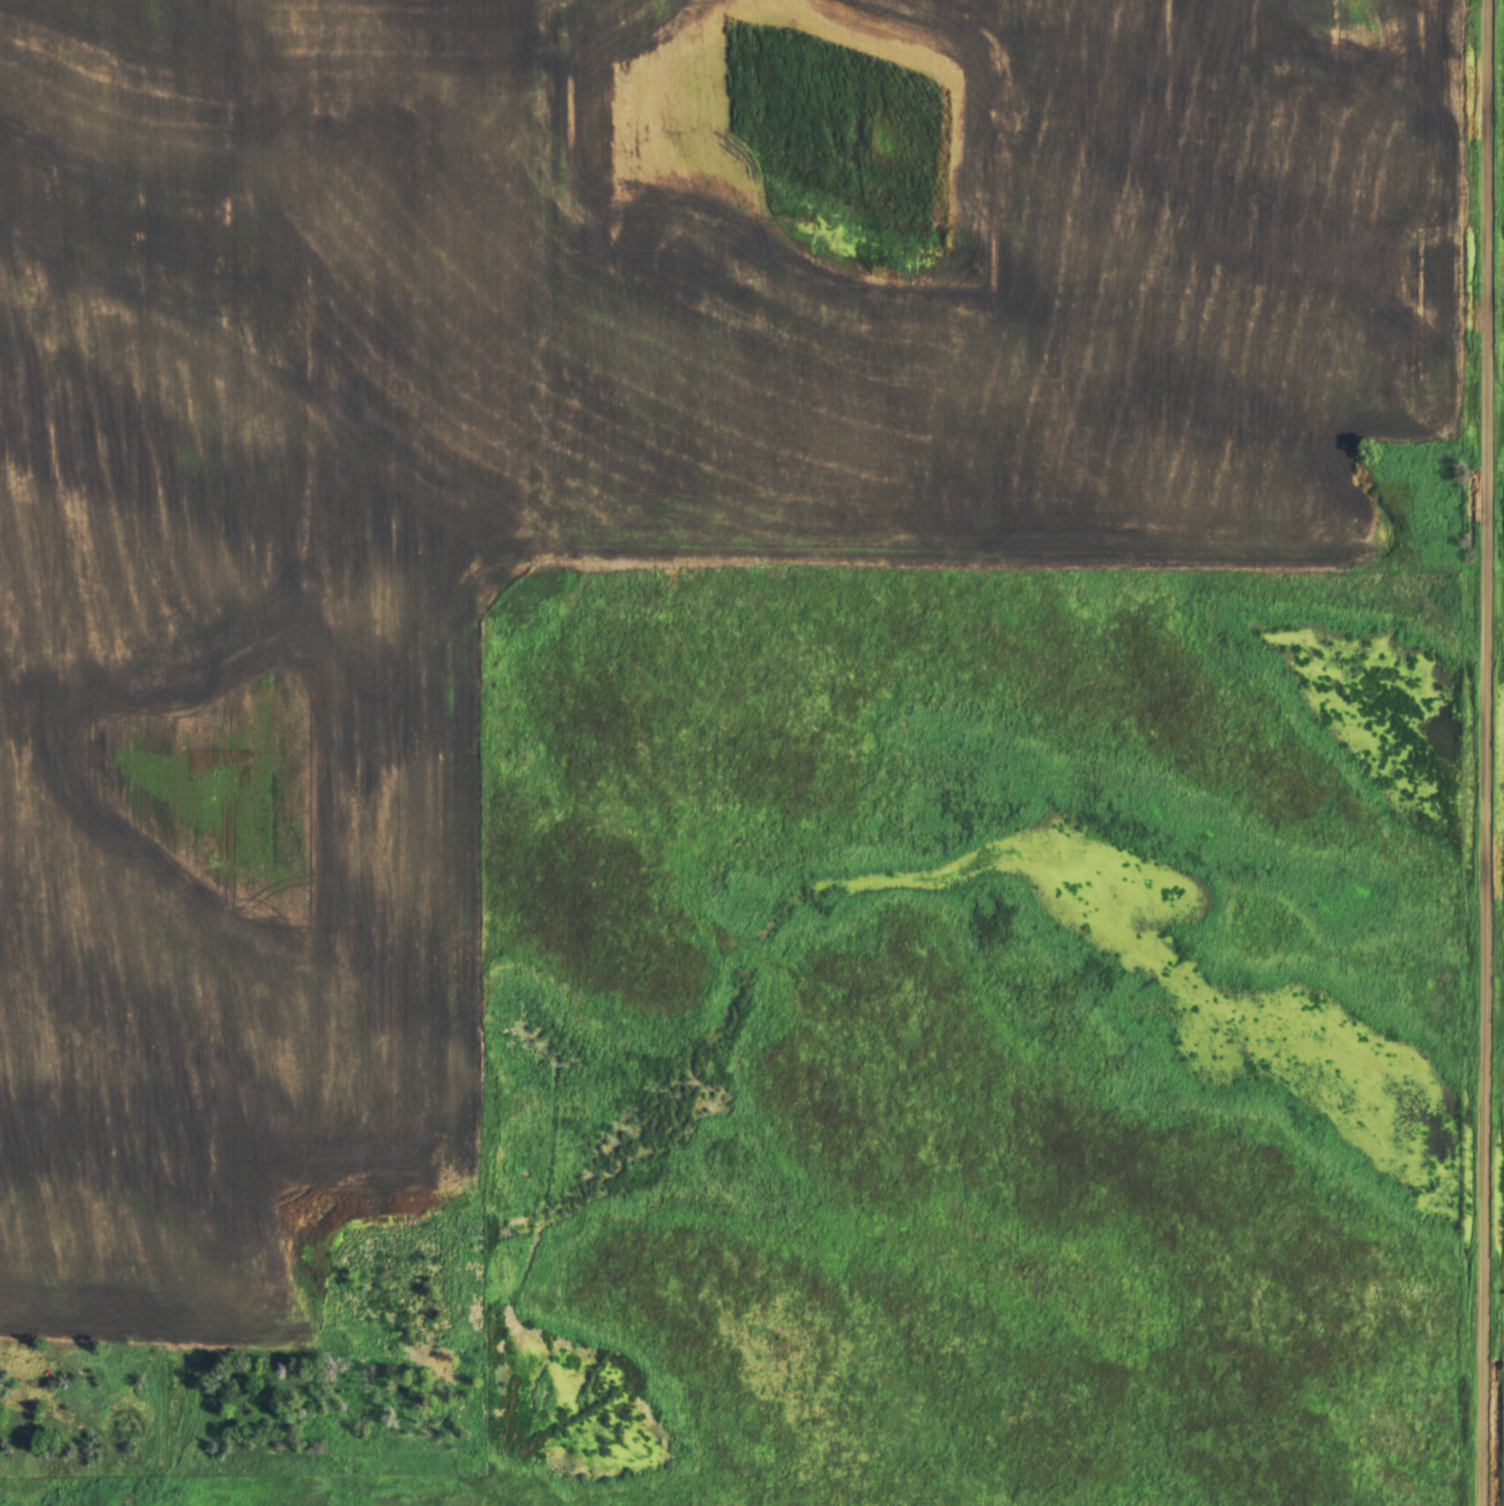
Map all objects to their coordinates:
crop: (569, 478)
road: (1483, 753)

